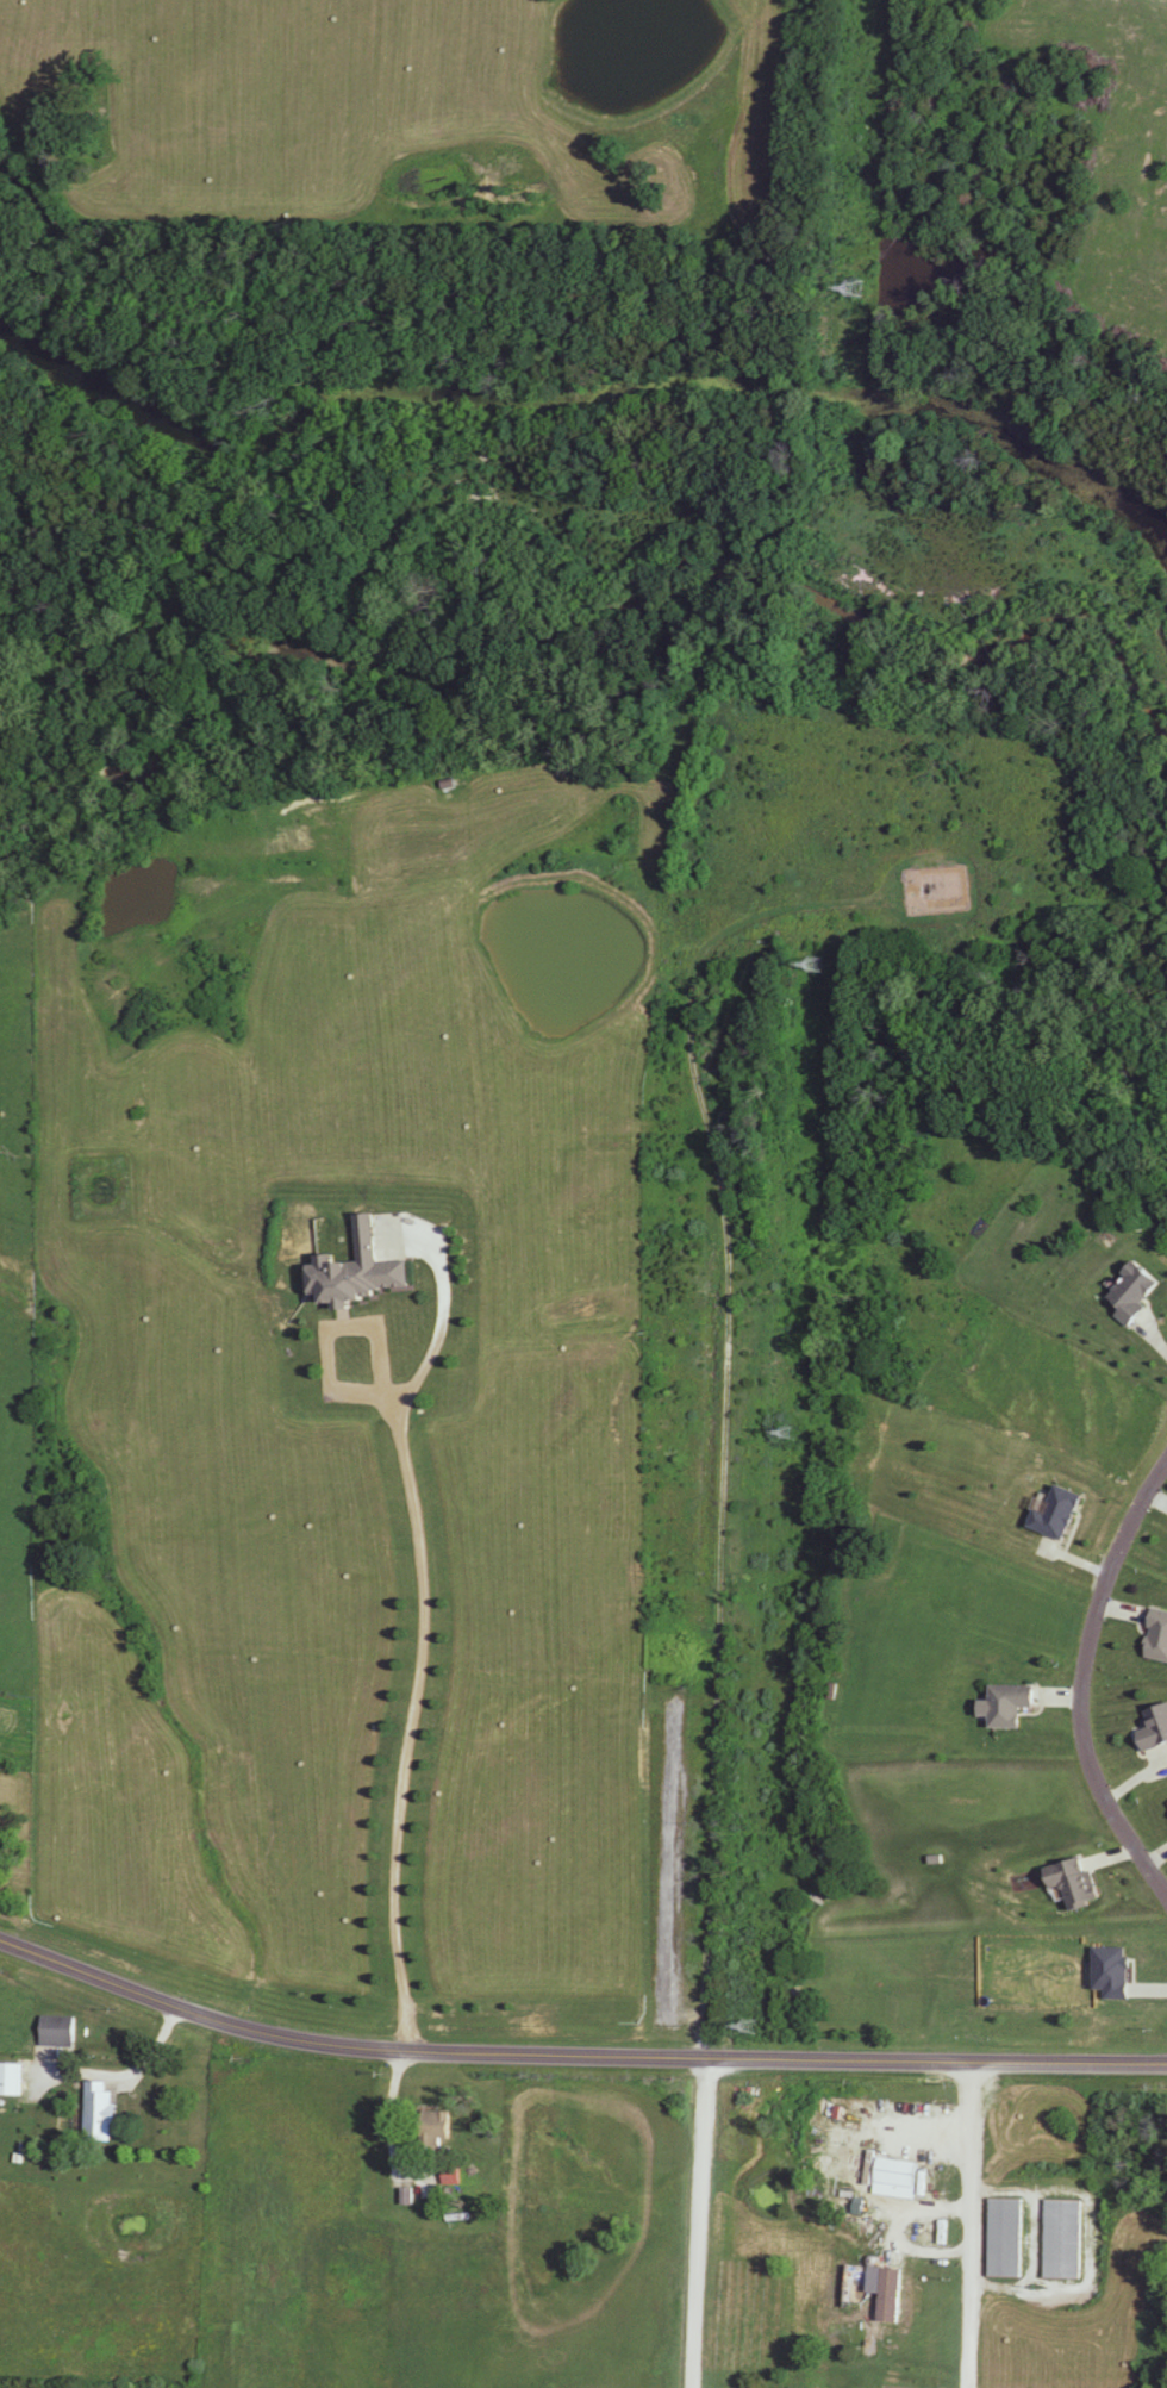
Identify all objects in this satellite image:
power tower: (859, 288)
power tower: (811, 966)
building: (356, 1273)
building: (1134, 1295)
power tower: (785, 1432)
building: (1054, 1514)
road: (418, 1633)
building: (1157, 1638)
road: (1079, 1681)
building: (1010, 1706)
building: (1154, 1728)
building: (1074, 1883)
power tower: (747, 2028)
building: (57, 2032)
road: (575, 2057)
building: (10, 2081)
building: (95, 2112)
building: (436, 2128)
road: (385, 2131)
building: (895, 2174)
road: (700, 2225)
road: (972, 2226)
building: (1004, 2238)
building: (1061, 2240)

